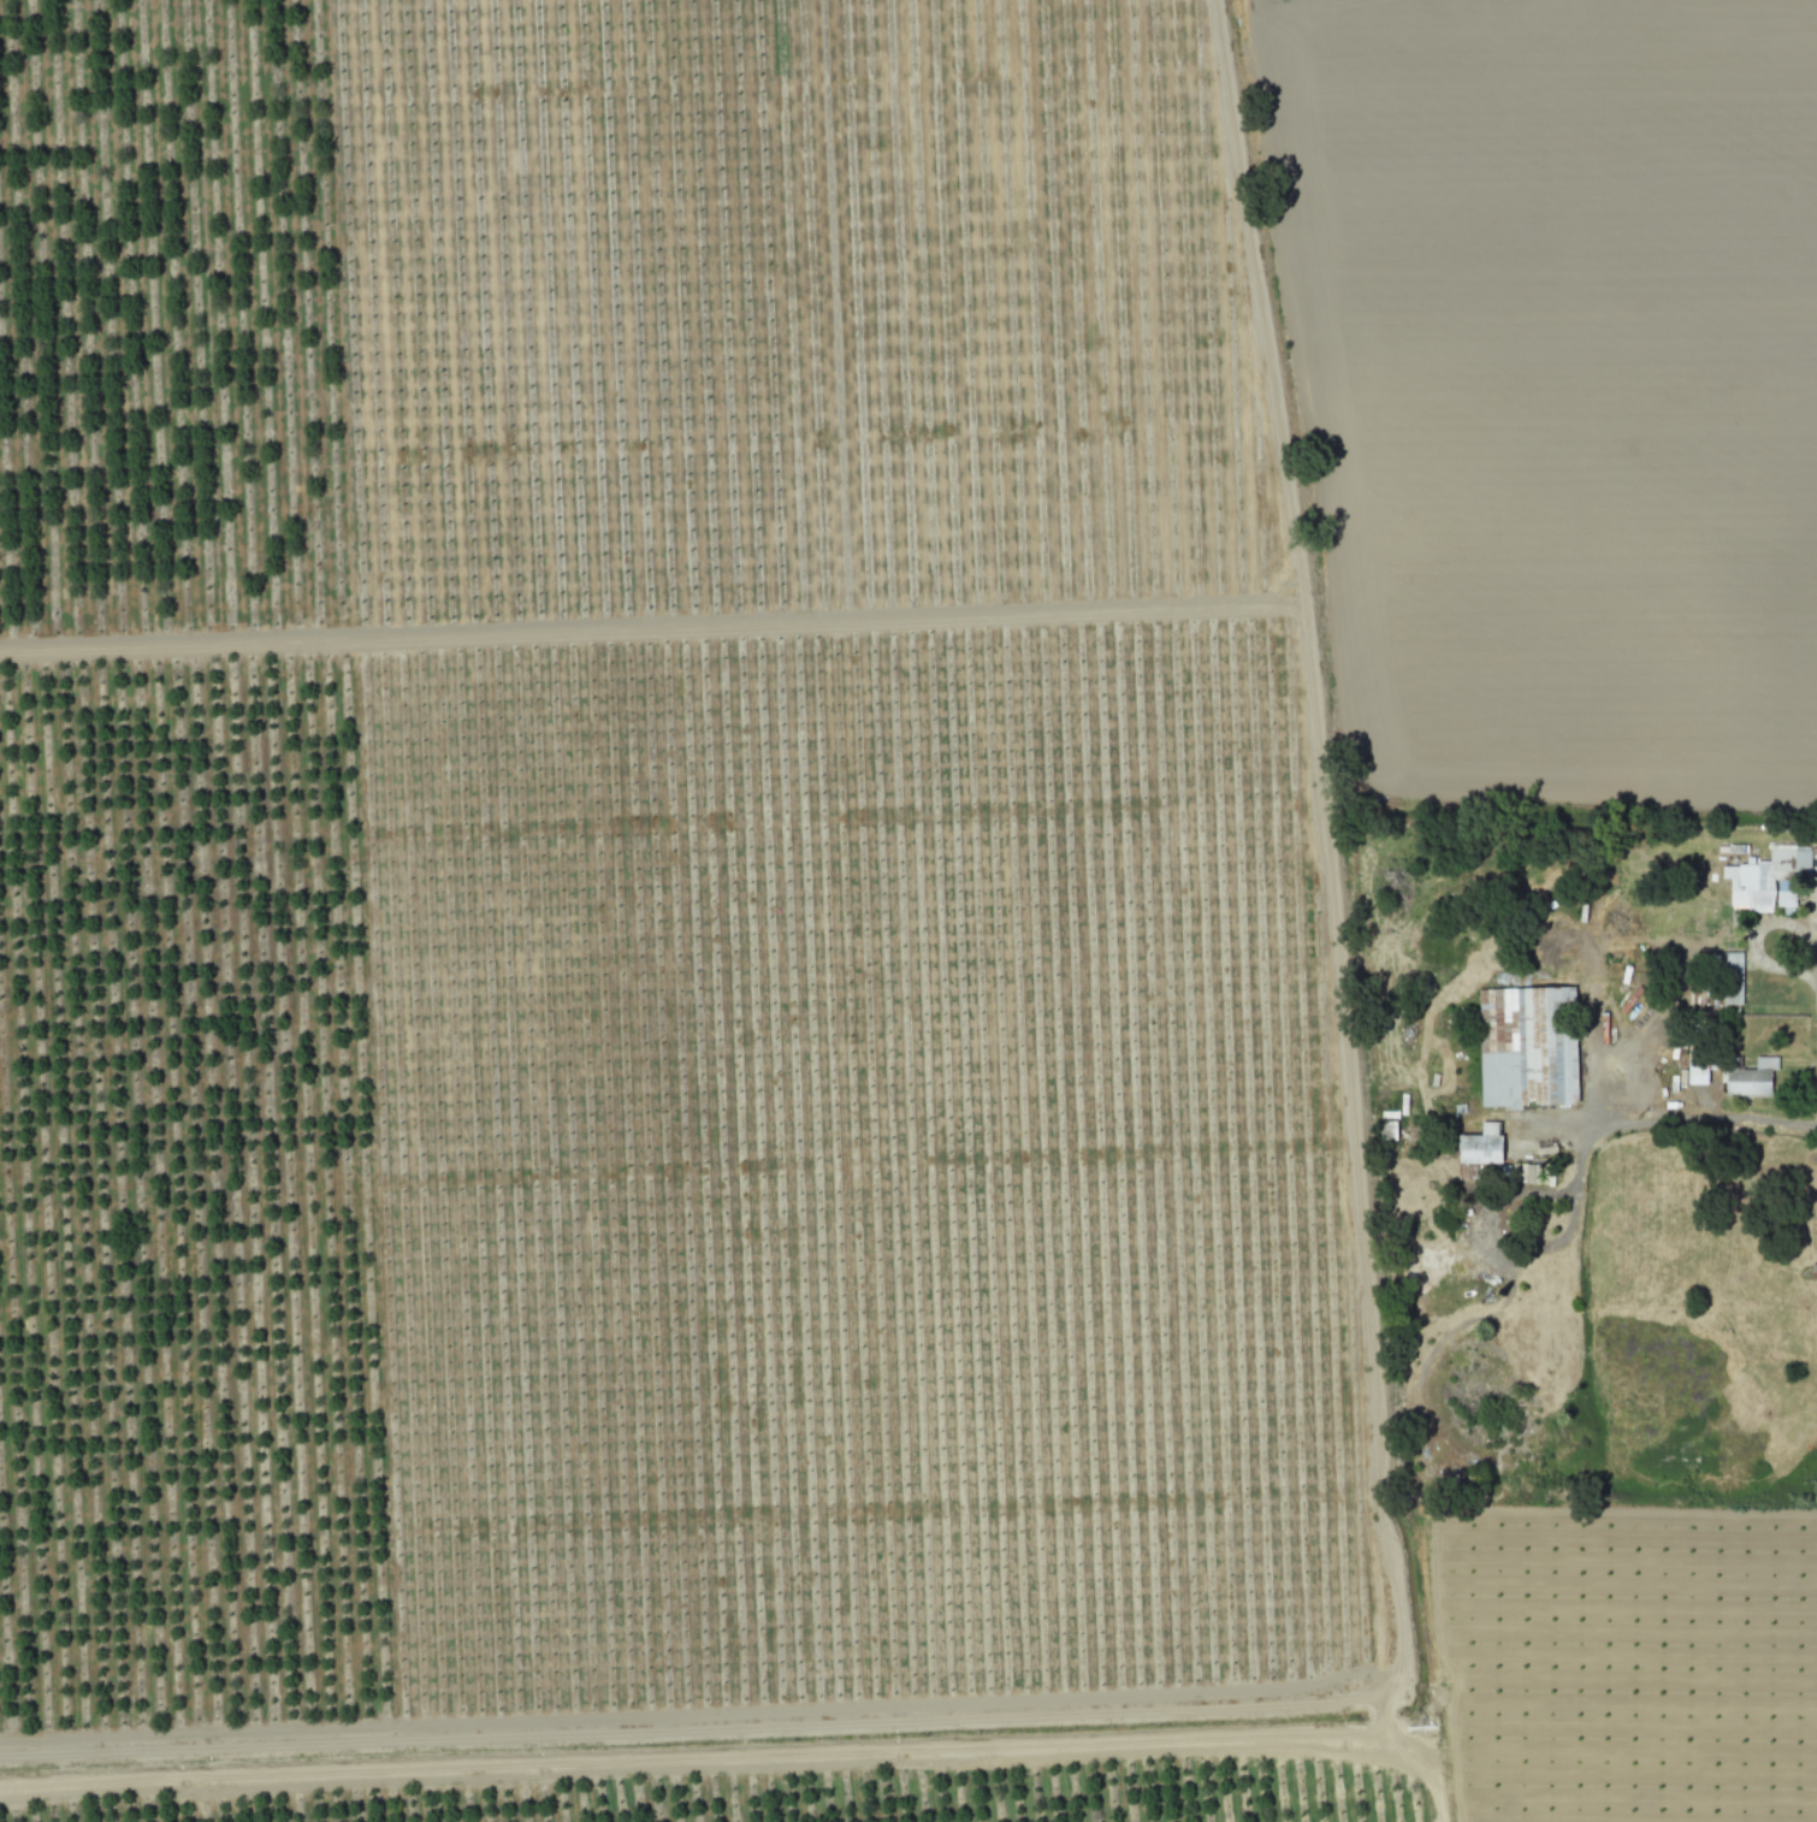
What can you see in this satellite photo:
crop: (1528, 383)
building: (1769, 879)
road: (1325, 909)
road: (1810, 965)
crop: (705, 977)
building: (1733, 977)
building: (1527, 1047)
building: (1695, 1069)
building: (1751, 1078)
road: (1715, 1117)
building: (1387, 1125)
building: (1479, 1150)
building: (1525, 1173)

